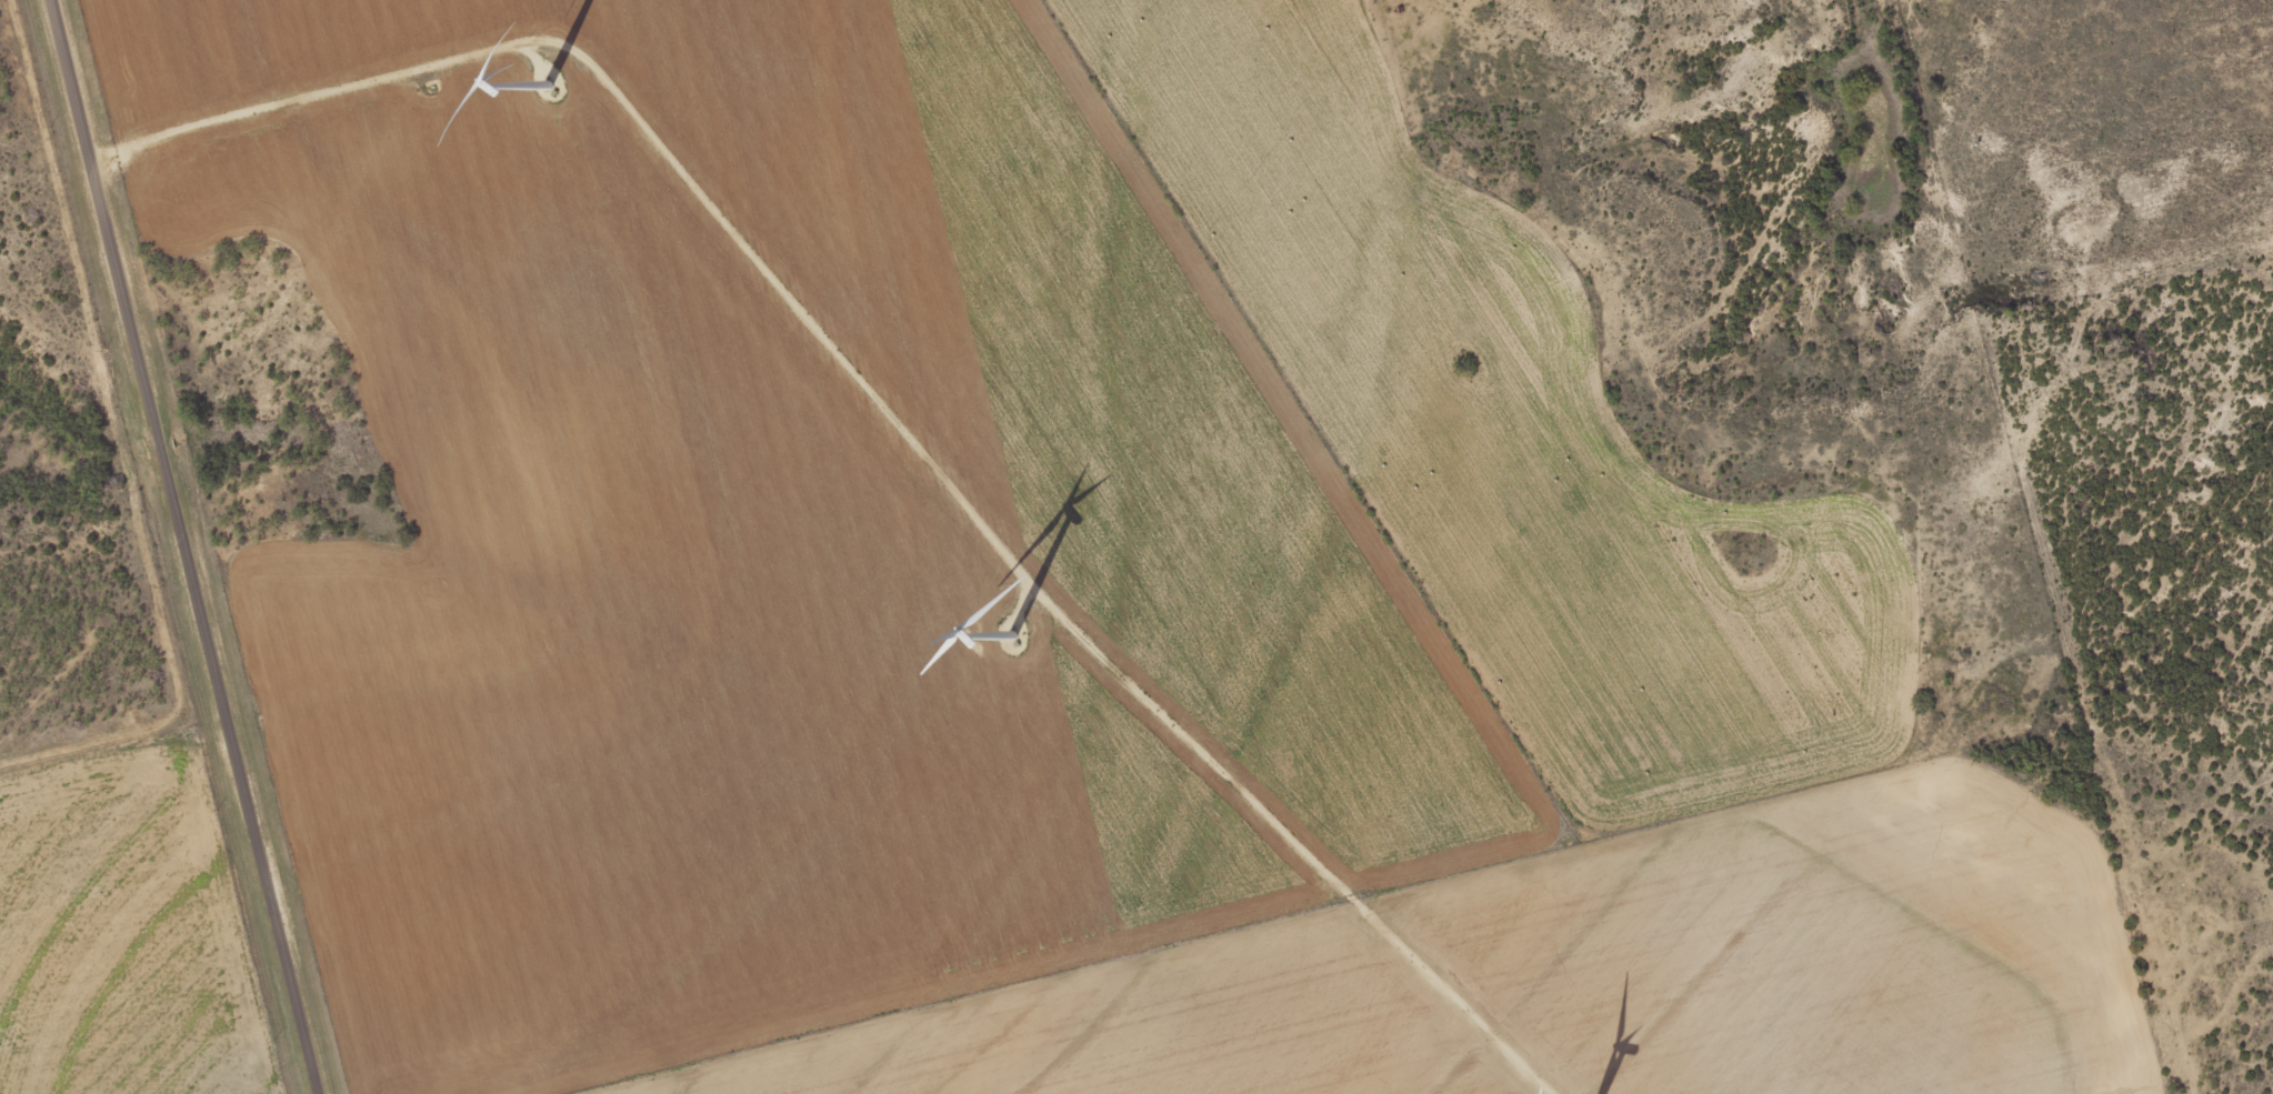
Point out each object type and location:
wind turbine: (547, 86)
road: (188, 546)
wind turbine: (1012, 635)

